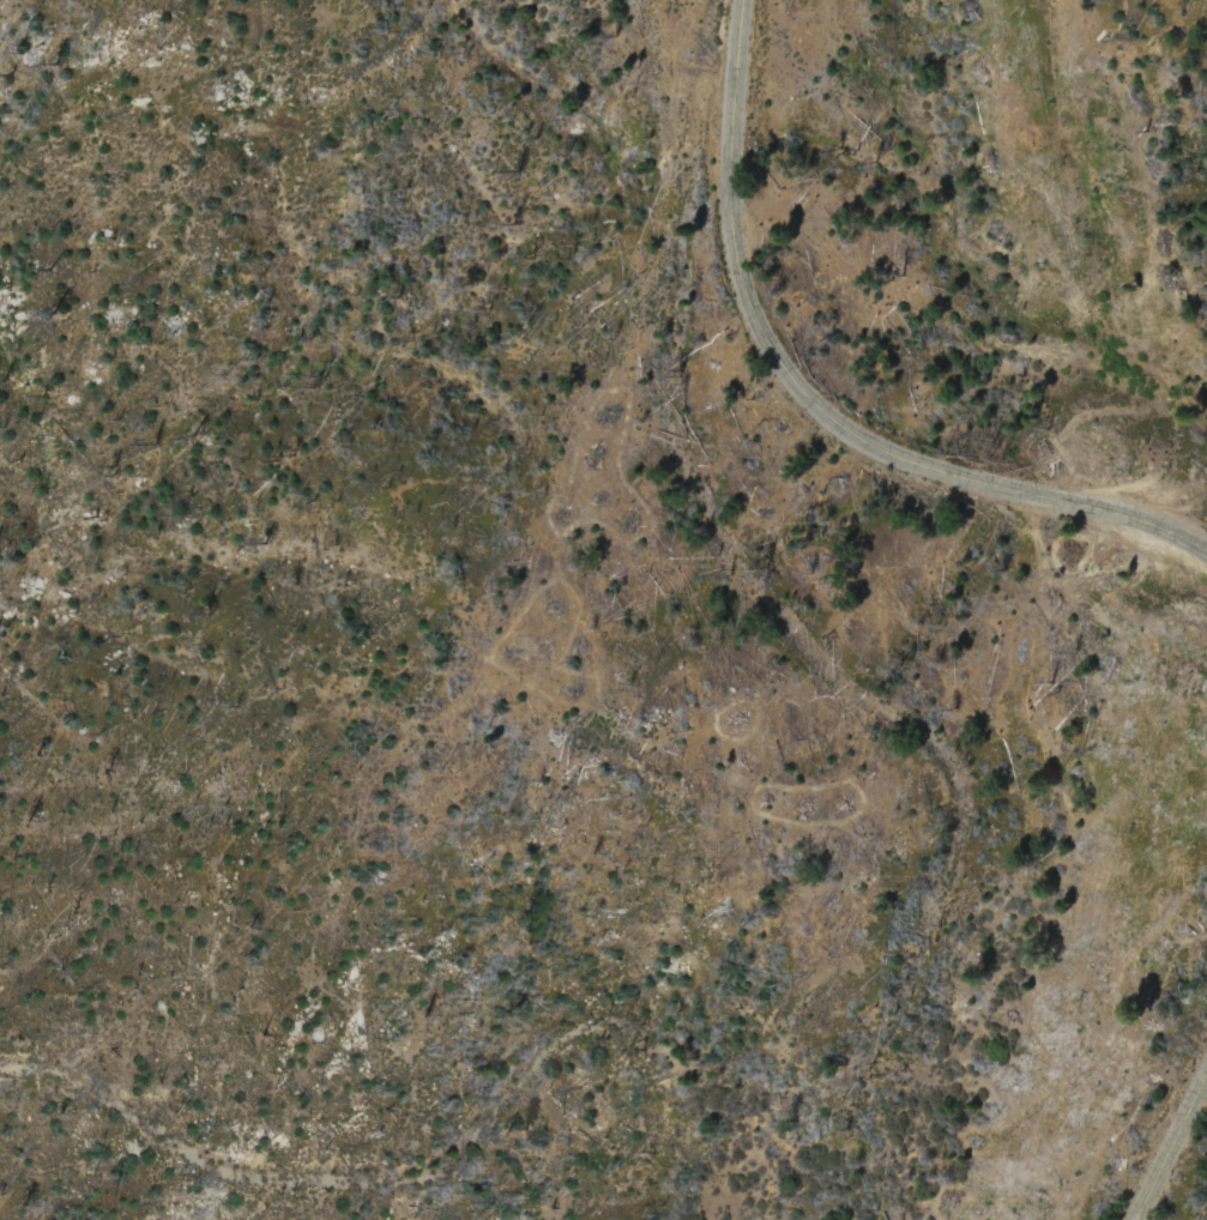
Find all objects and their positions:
road: (808, 406)
road: (1167, 1146)

